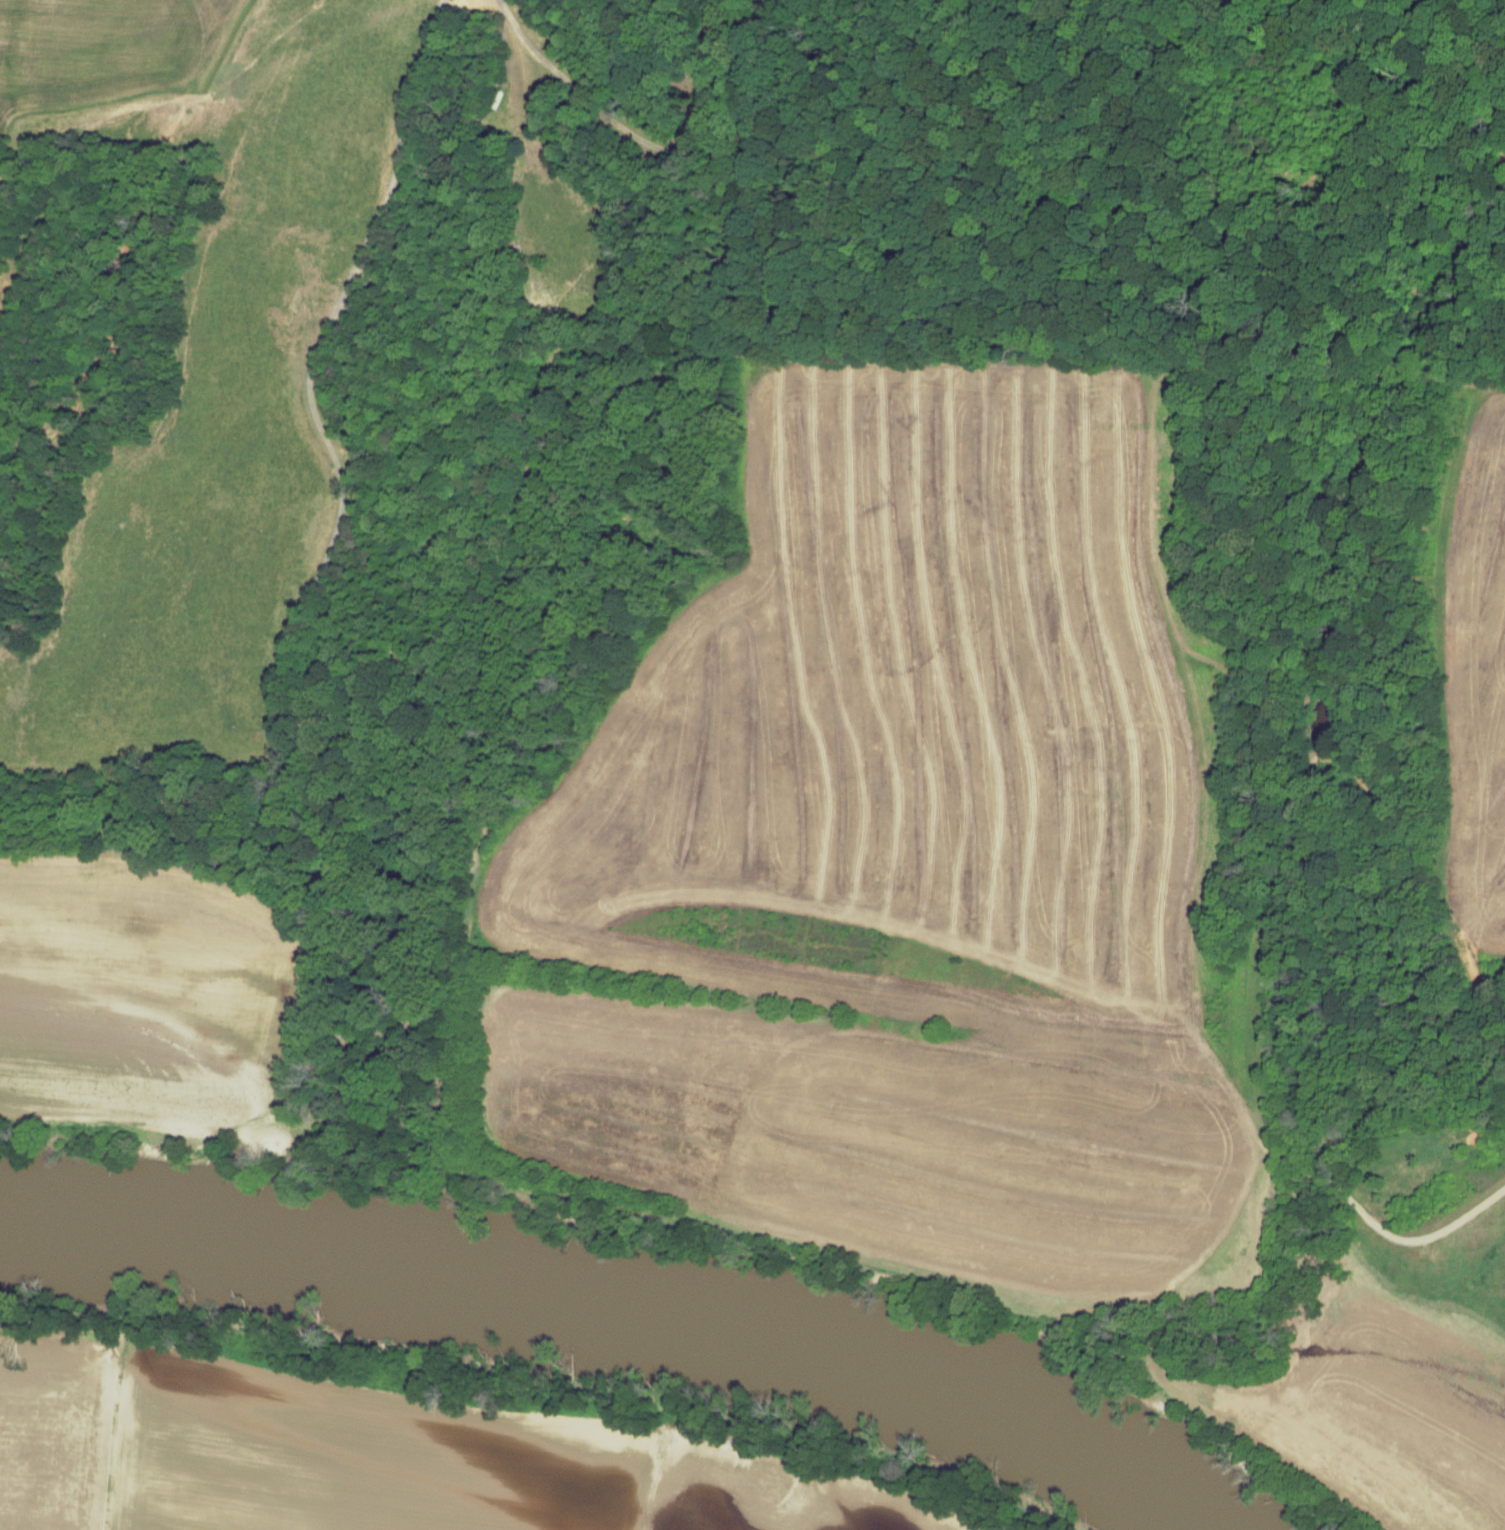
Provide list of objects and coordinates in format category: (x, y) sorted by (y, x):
road: (1192, 1246)
river: (639, 1302)
road: (113, 1436)

